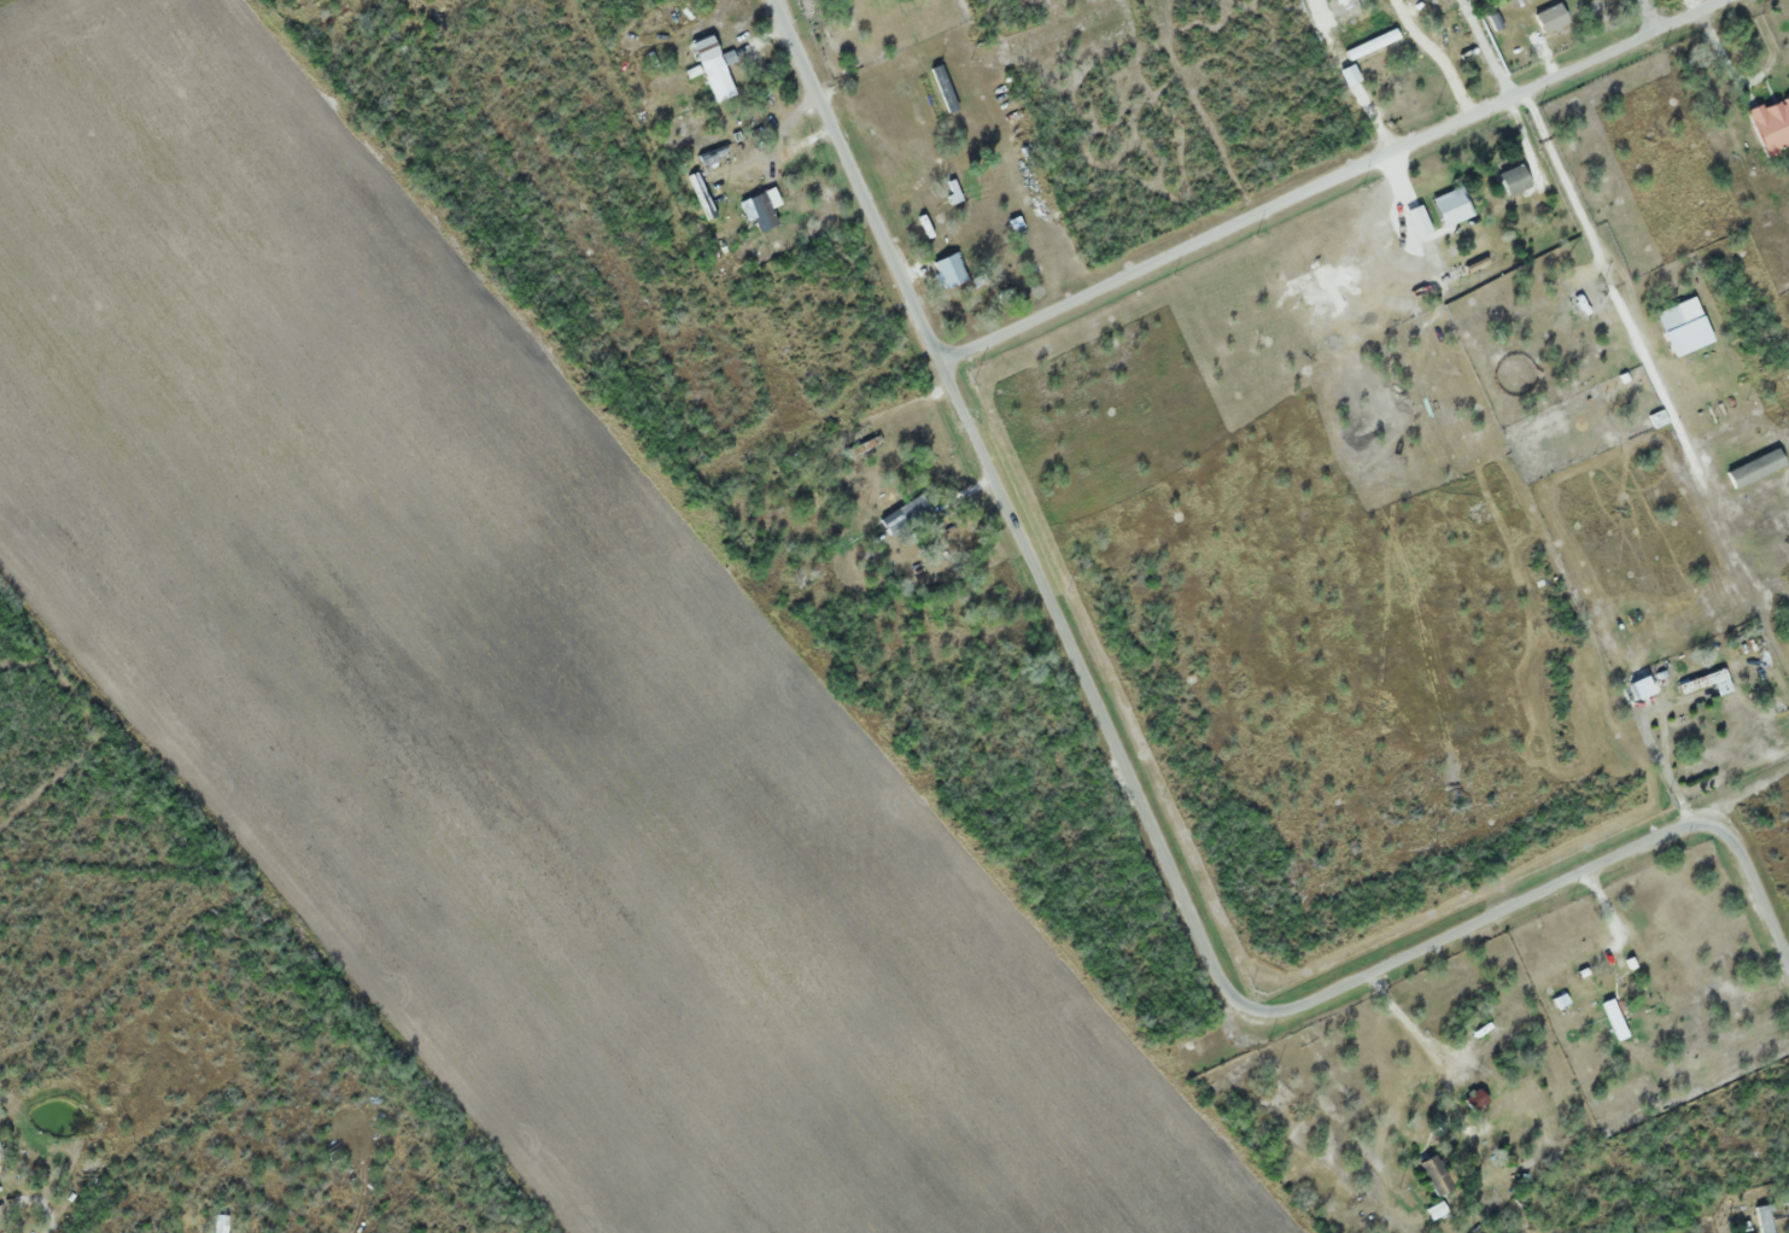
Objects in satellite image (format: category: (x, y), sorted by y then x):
road: (1649, 14)
building: (1553, 18)
building: (1373, 43)
building: (930, 97)
building: (1772, 124)
building: (714, 154)
road: (1562, 176)
road: (1328, 180)
building: (1516, 180)
road: (854, 181)
building: (784, 194)
building: (702, 195)
building: (1454, 206)
building: (951, 270)
building: (1585, 300)
building: (1689, 310)
building: (1778, 438)
building: (907, 516)
road: (1229, 989)
building: (1614, 1019)
building: (1477, 1099)
building: (1439, 1175)
road: (36, 1199)
building: (1765, 1219)

